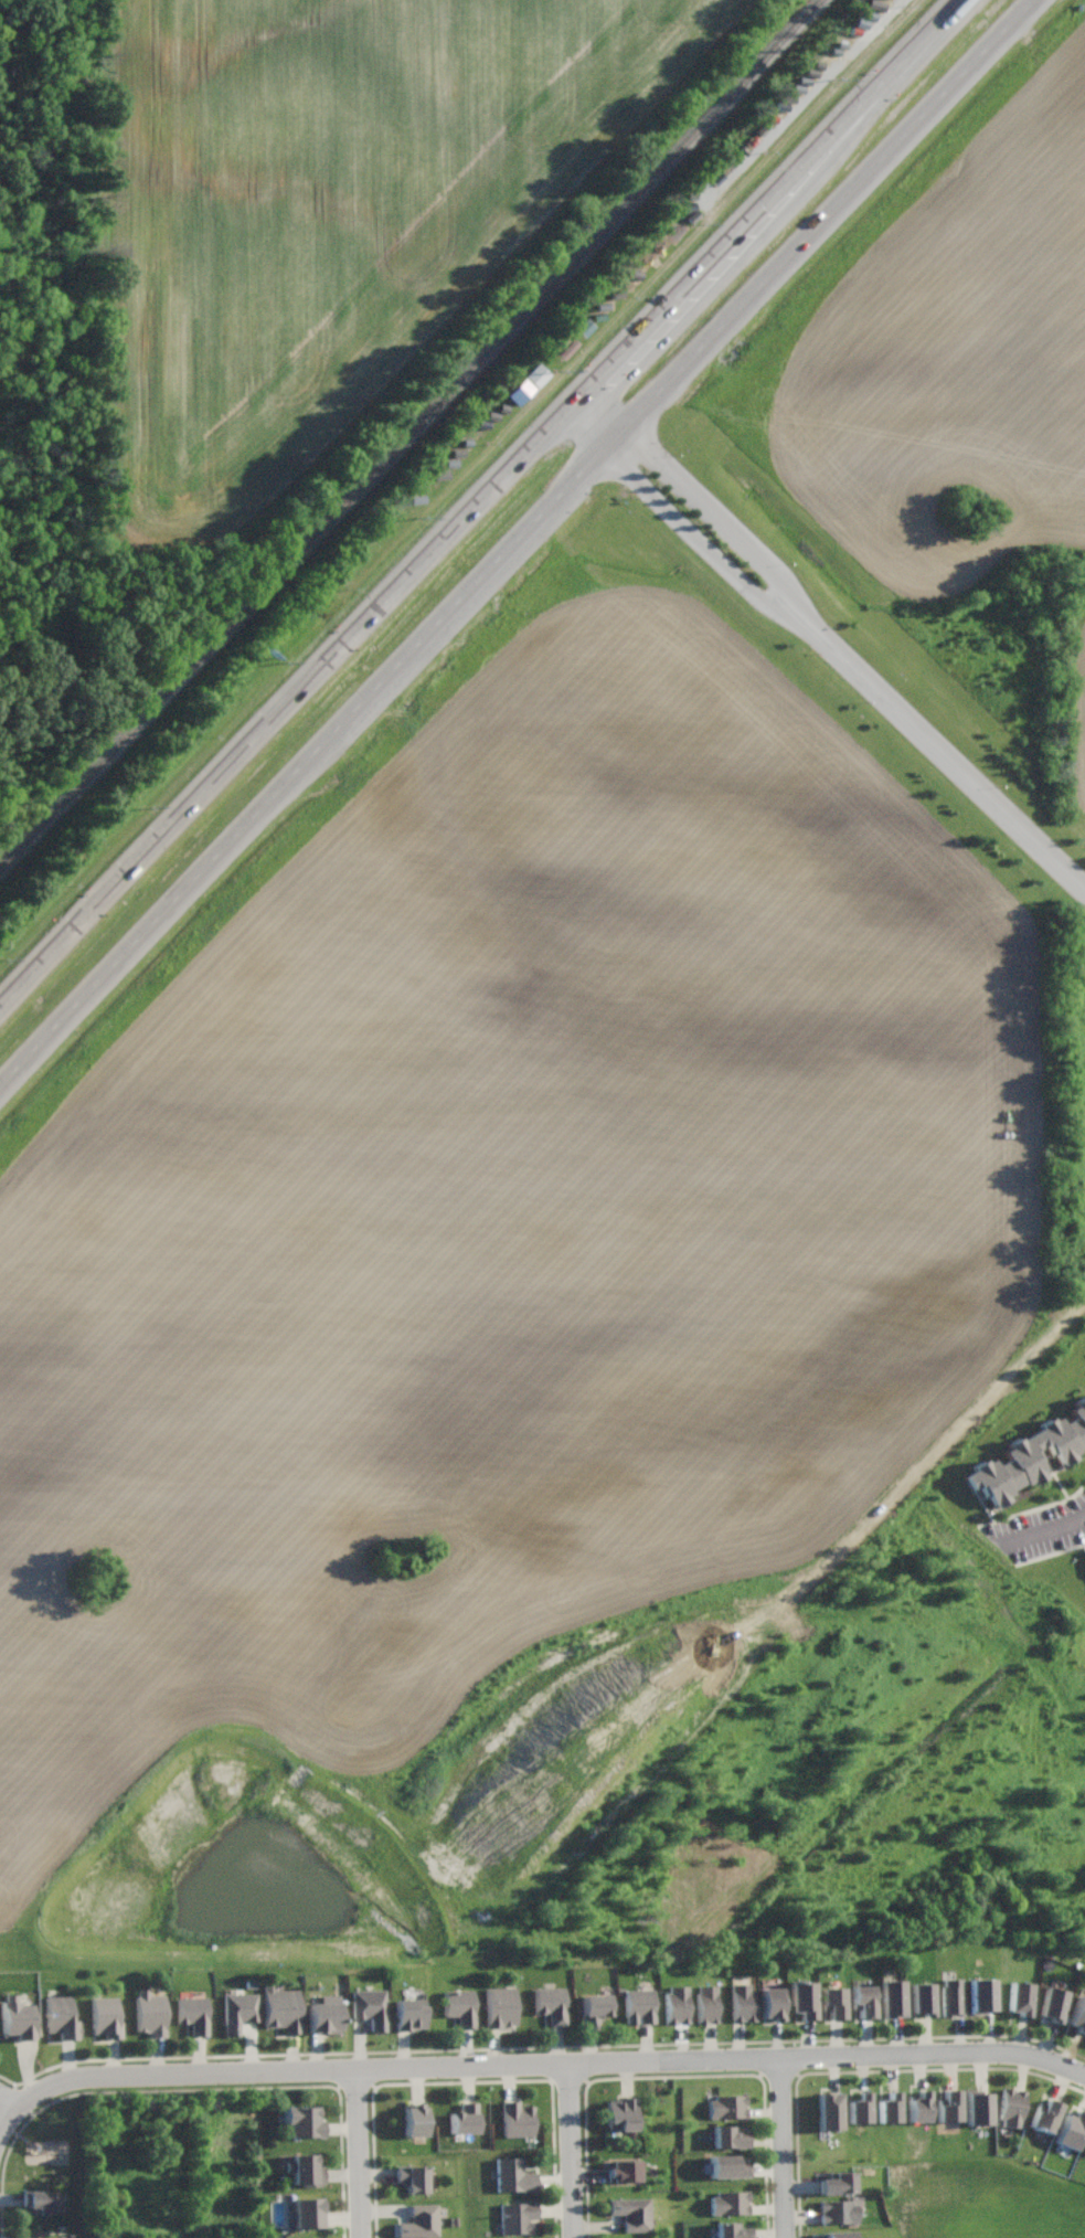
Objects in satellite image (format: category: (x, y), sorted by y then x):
building: (528, 384)
railway: (412, 434)
road: (479, 505)
road: (722, 513)
road: (696, 540)
road: (518, 541)
road: (962, 771)
building: (1029, 1456)
road: (1047, 1532)
building: (982, 1994)
building: (951, 1997)
building: (1020, 1997)
building: (804, 1998)
building: (893, 1998)
building: (924, 1998)
building: (863, 2001)
building: (742, 2002)
building: (832, 2002)
building: (1052, 2002)
building: (551, 2003)
building: (772, 2003)
building: (705, 2004)
building: (500, 2005)
building: (638, 2005)
building: (676, 2005)
building: (460, 2006)
building: (279, 2007)
building: (369, 2007)
building: (594, 2007)
building: (237, 2011)
building: (1078, 2012)
building: (149, 2013)
building: (408, 2013)
building: (192, 2014)
building: (325, 2014)
building: (61, 2016)
building: (105, 2016)
building: (17, 2018)
road: (547, 2065)
road: (8, 2103)
building: (726, 2106)
building: (919, 2106)
building: (949, 2106)
building: (979, 2107)
building: (1011, 2107)
building: (860, 2108)
building: (890, 2108)
building: (828, 2110)
building: (619, 2113)
building: (1044, 2115)
building: (465, 2118)
building: (517, 2119)
building: (415, 2120)
building: (302, 2121)
road: (8, 2124)
building: (1071, 2129)
building: (730, 2136)
road: (784, 2149)
road: (572, 2151)
road: (359, 2154)
building: (727, 2165)
building: (305, 2168)
building: (621, 2171)
building: (512, 2175)
building: (412, 2177)
building: (838, 2182)
building: (42, 2200)
building: (731, 2202)
building: (838, 2210)
building: (632, 2212)
building: (309, 2213)
building: (517, 2217)
building: (419, 2221)
building: (732, 2230)
building: (36, 2234)
building: (839, 2235)

